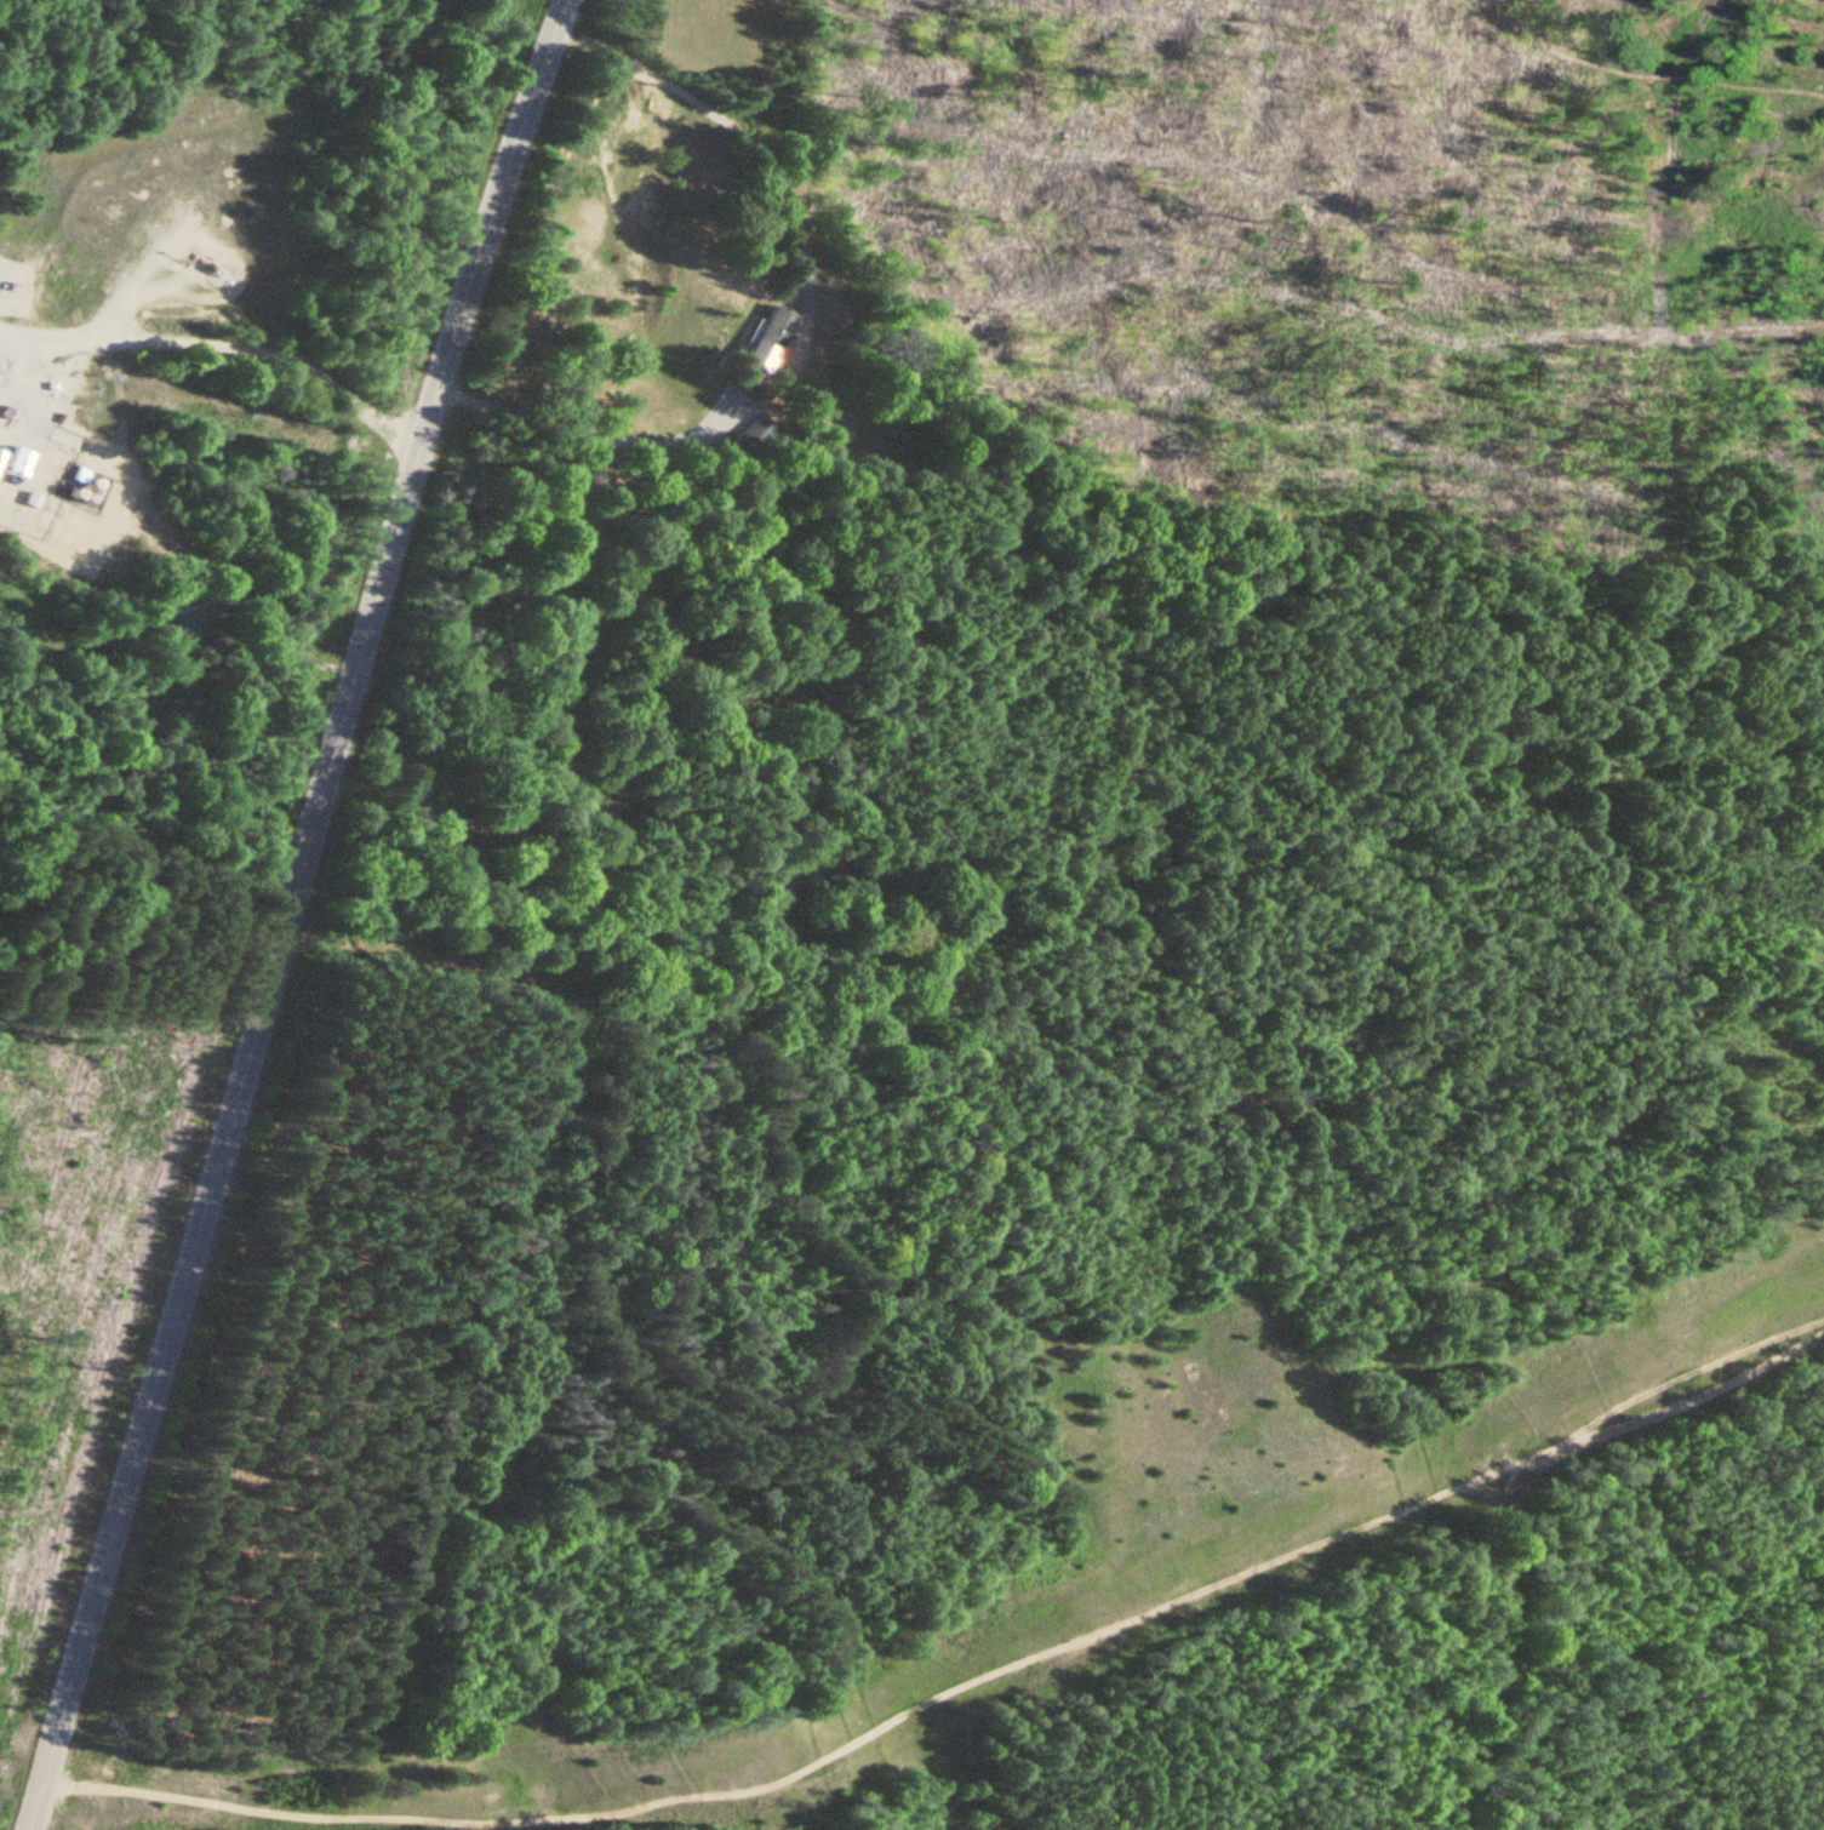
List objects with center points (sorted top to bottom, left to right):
building: (772, 334)
building: (759, 430)
building: (53, 436)
road: (623, 440)
building: (1, 457)
building: (19, 463)
building: (187, 622)
road: (295, 911)
road: (1676, 1397)
road: (1500, 1643)
road: (993, 1676)

